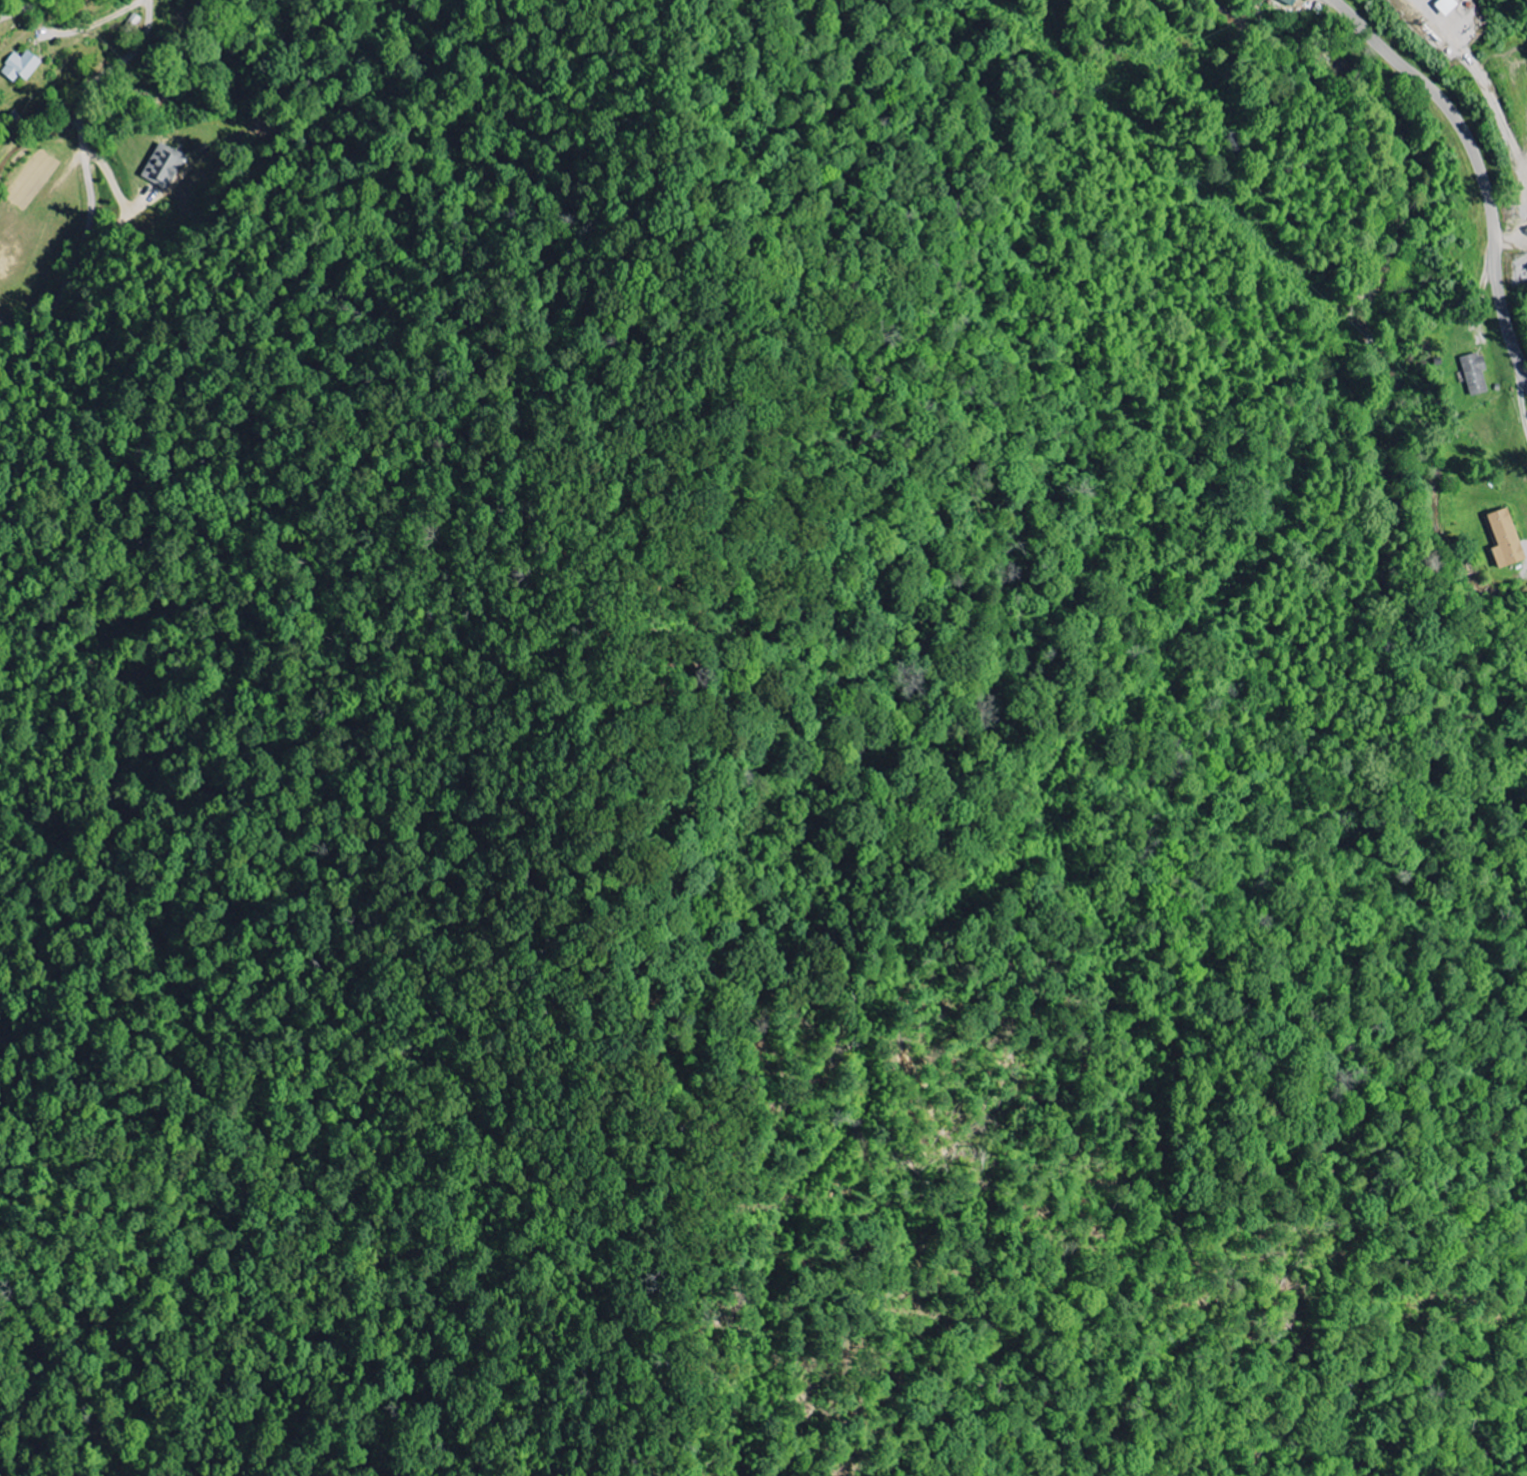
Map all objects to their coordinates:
road: (21, 8)
building: (22, 67)
road: (1478, 162)
building: (165, 167)
road: (89, 195)
building: (1477, 374)
building: (1507, 540)

